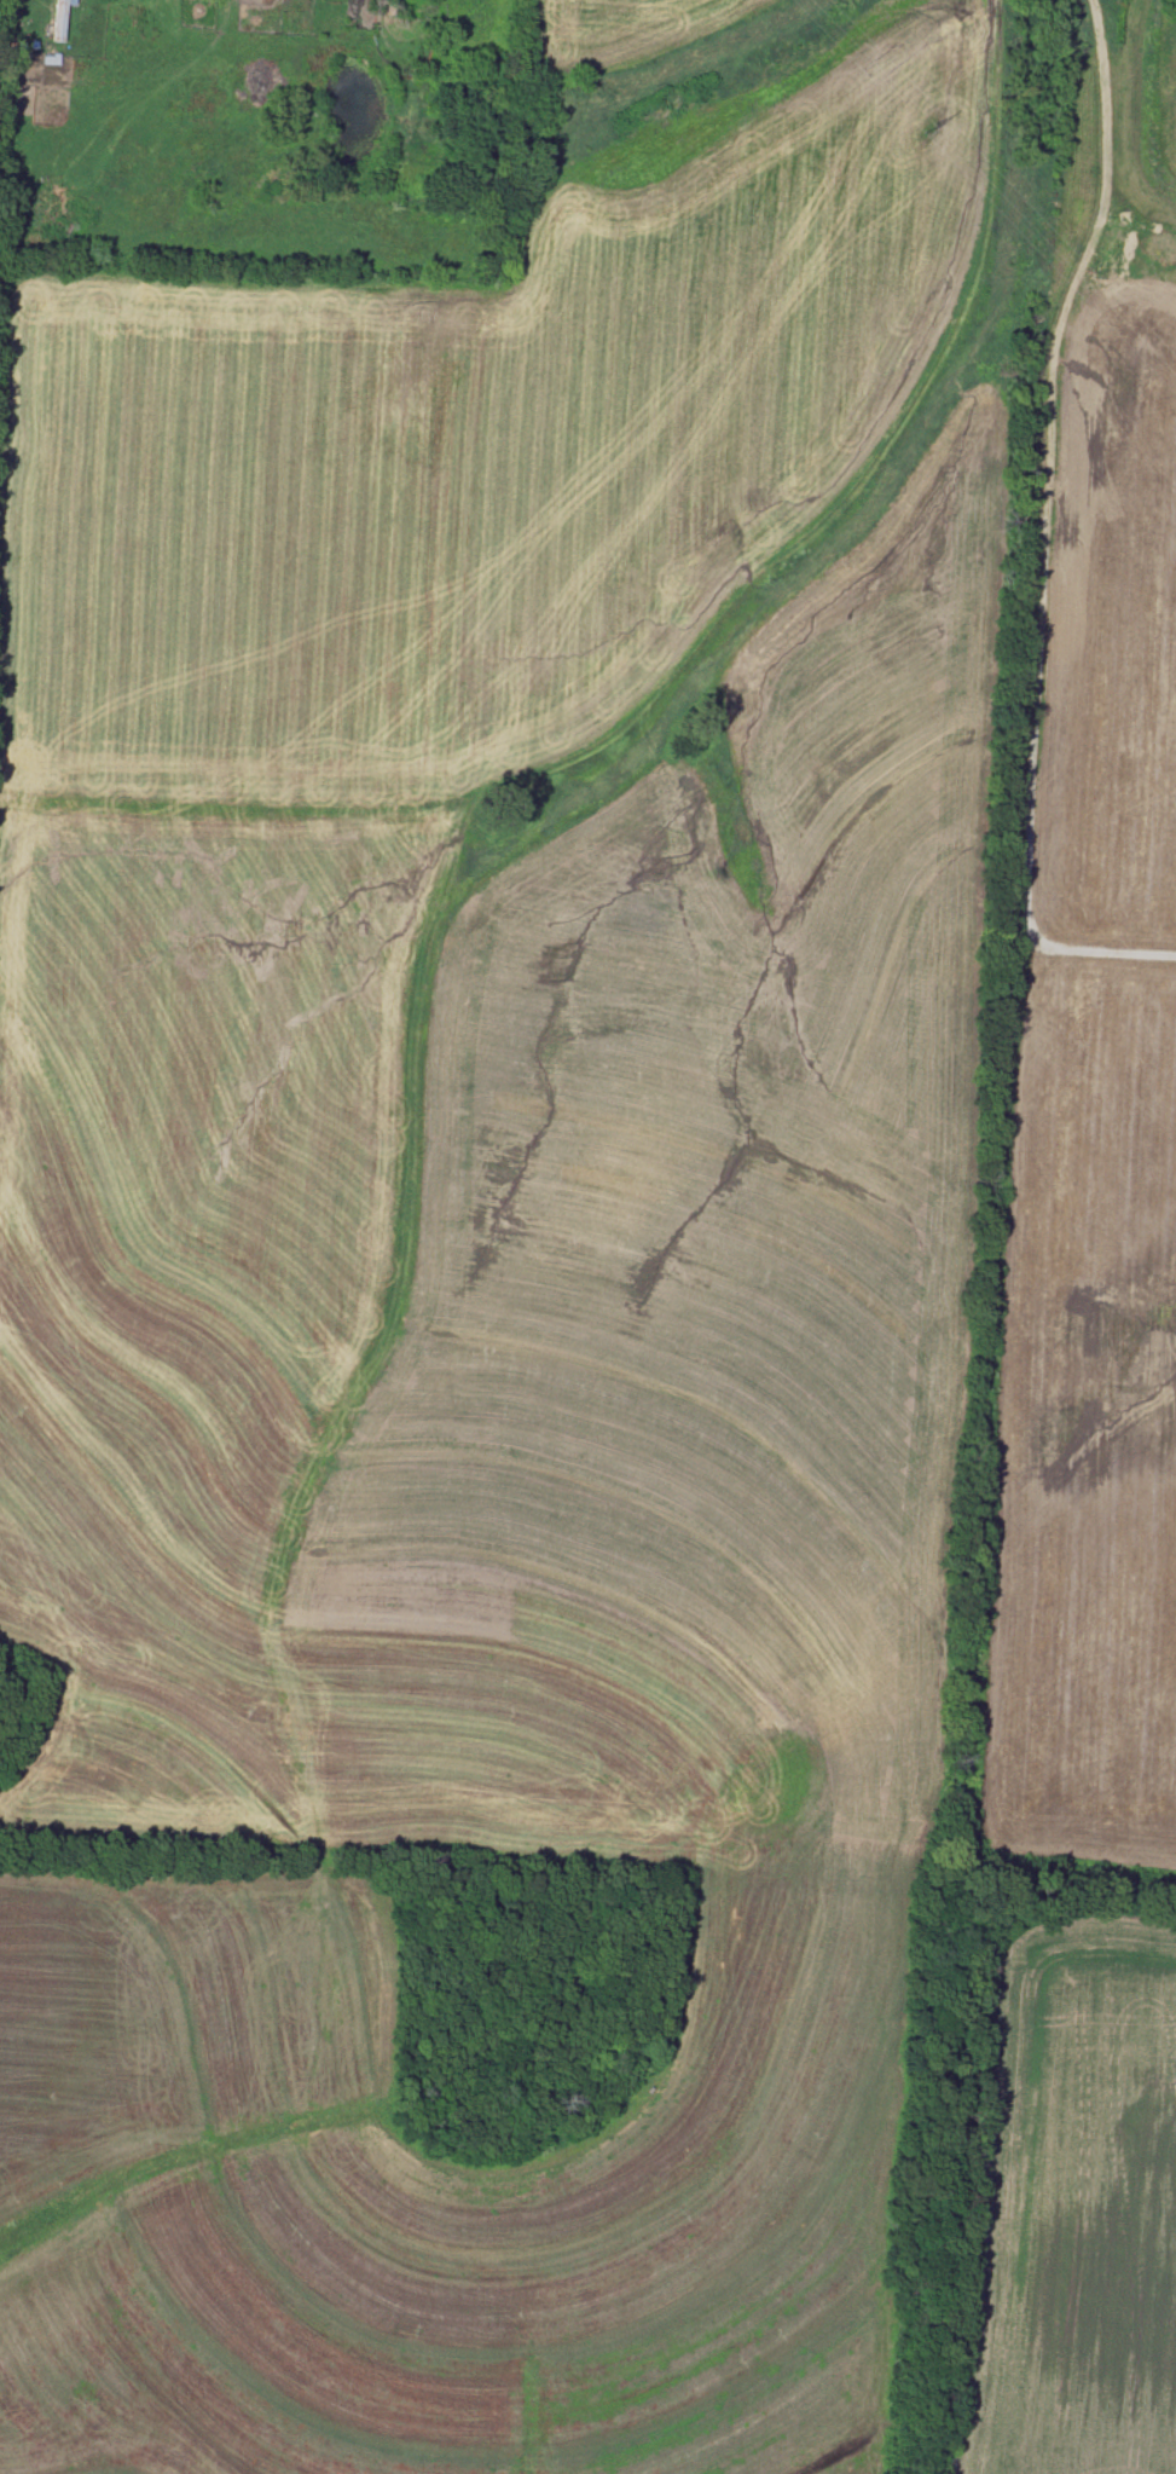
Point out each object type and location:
building: (59, 19)
power tower: (942, 139)
crop: (496, 1253)
crop: (1066, 2200)

